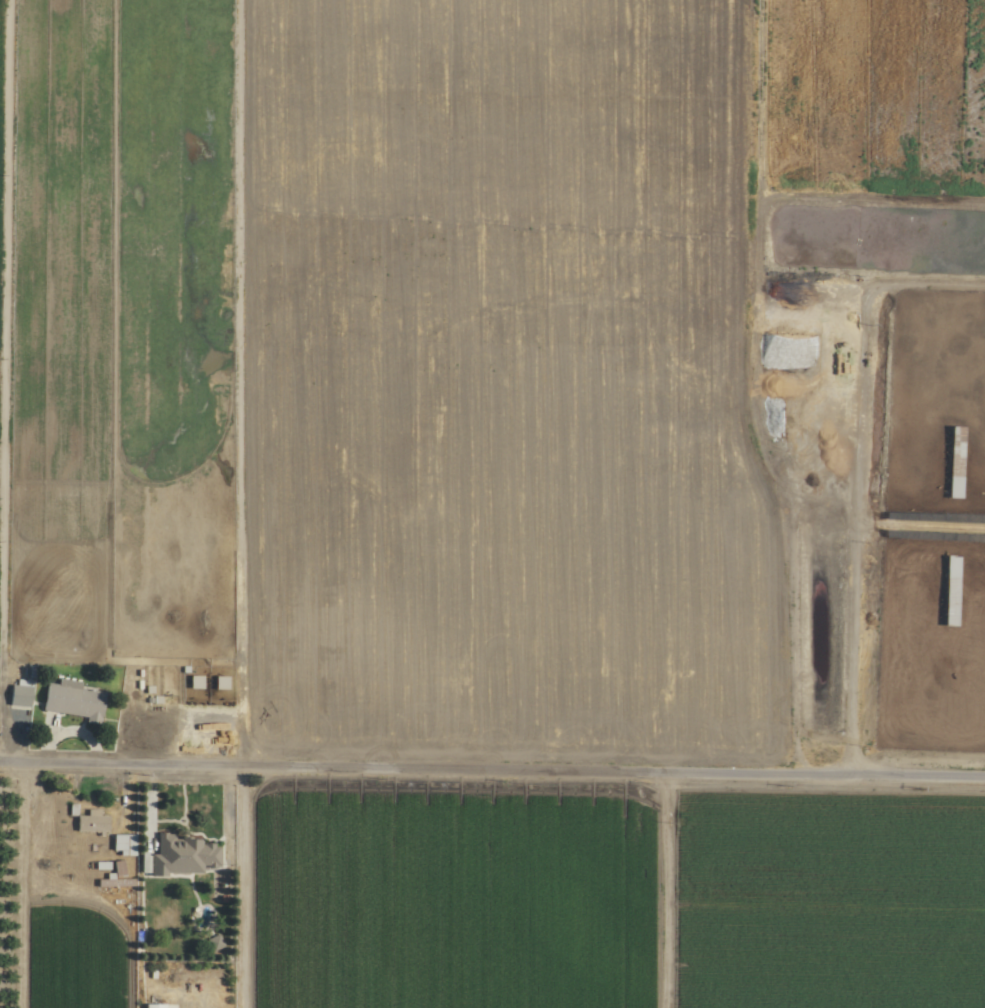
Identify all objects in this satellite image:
building: (16, 694)
building: (69, 699)
building: (162, 699)
road: (188, 721)
road: (492, 776)
building: (88, 821)
building: (119, 843)
building: (179, 856)
building: (115, 867)
building: (109, 880)
building: (149, 1005)

